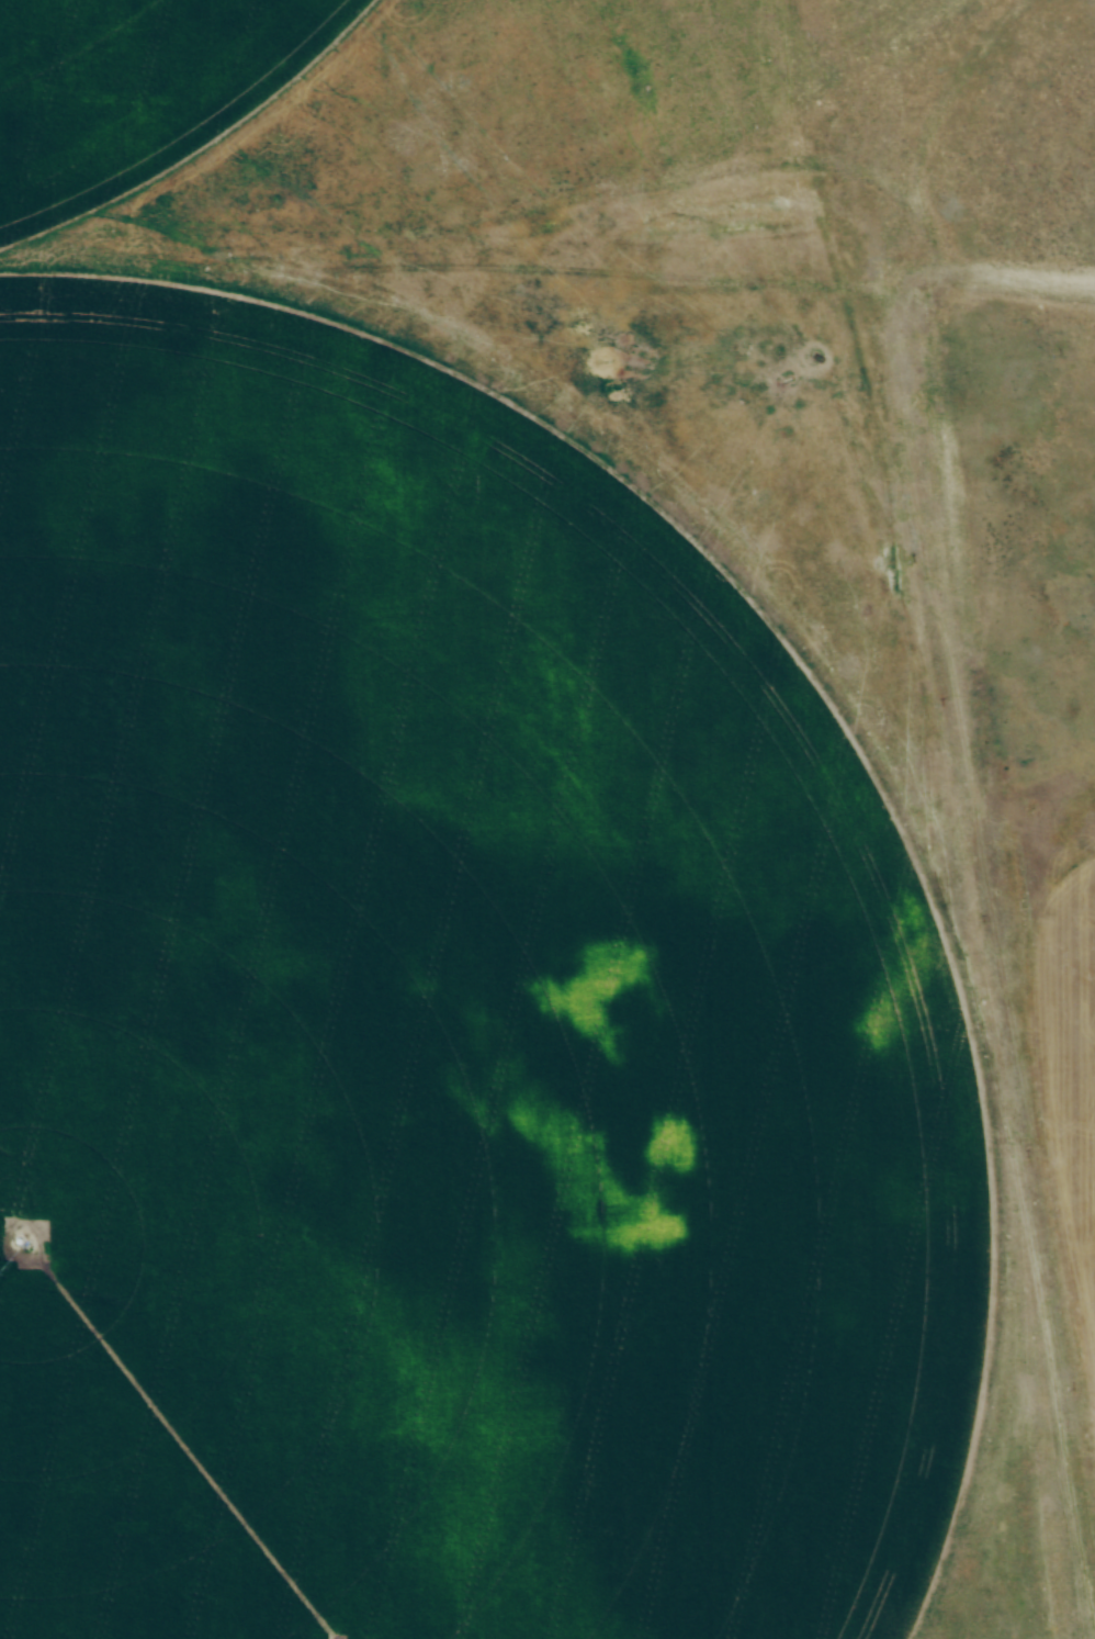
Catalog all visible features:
crop: (133, 92)
crop: (434, 1036)
crop: (1091, 1178)

